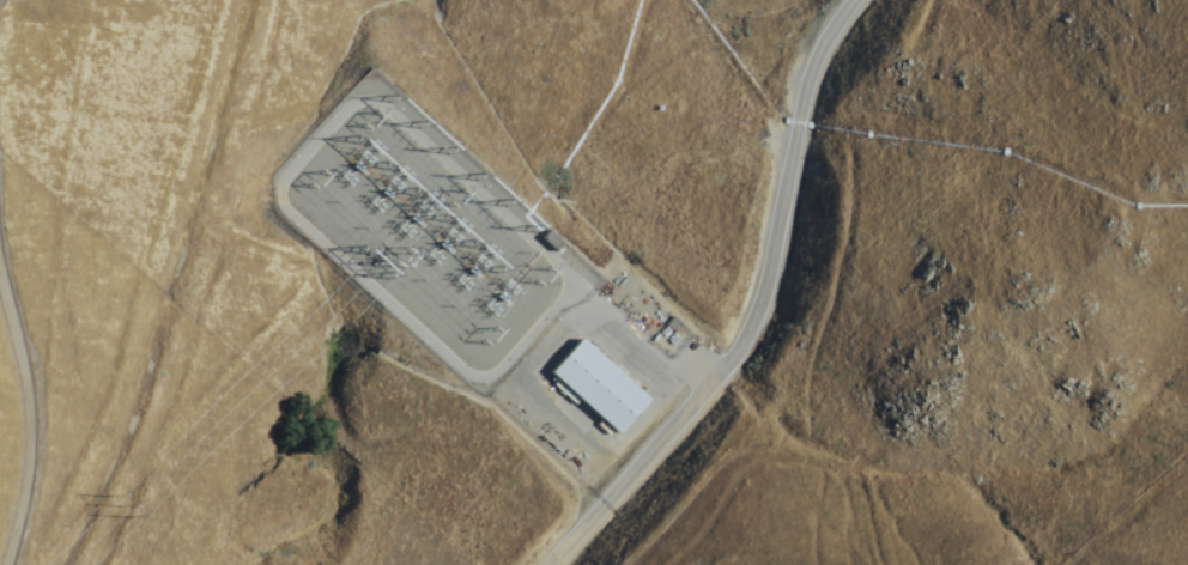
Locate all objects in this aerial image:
power tower: (413, 115)
power tower: (376, 121)
power tower: (437, 142)
power tower: (322, 181)
power tower: (497, 193)
power tower: (466, 201)
power tower: (528, 220)
power substation: (429, 235)
power tower: (412, 262)
power tower: (380, 265)
power tower: (550, 277)
road: (758, 310)
power tower: (495, 336)
building: (596, 385)
power tower: (122, 506)

